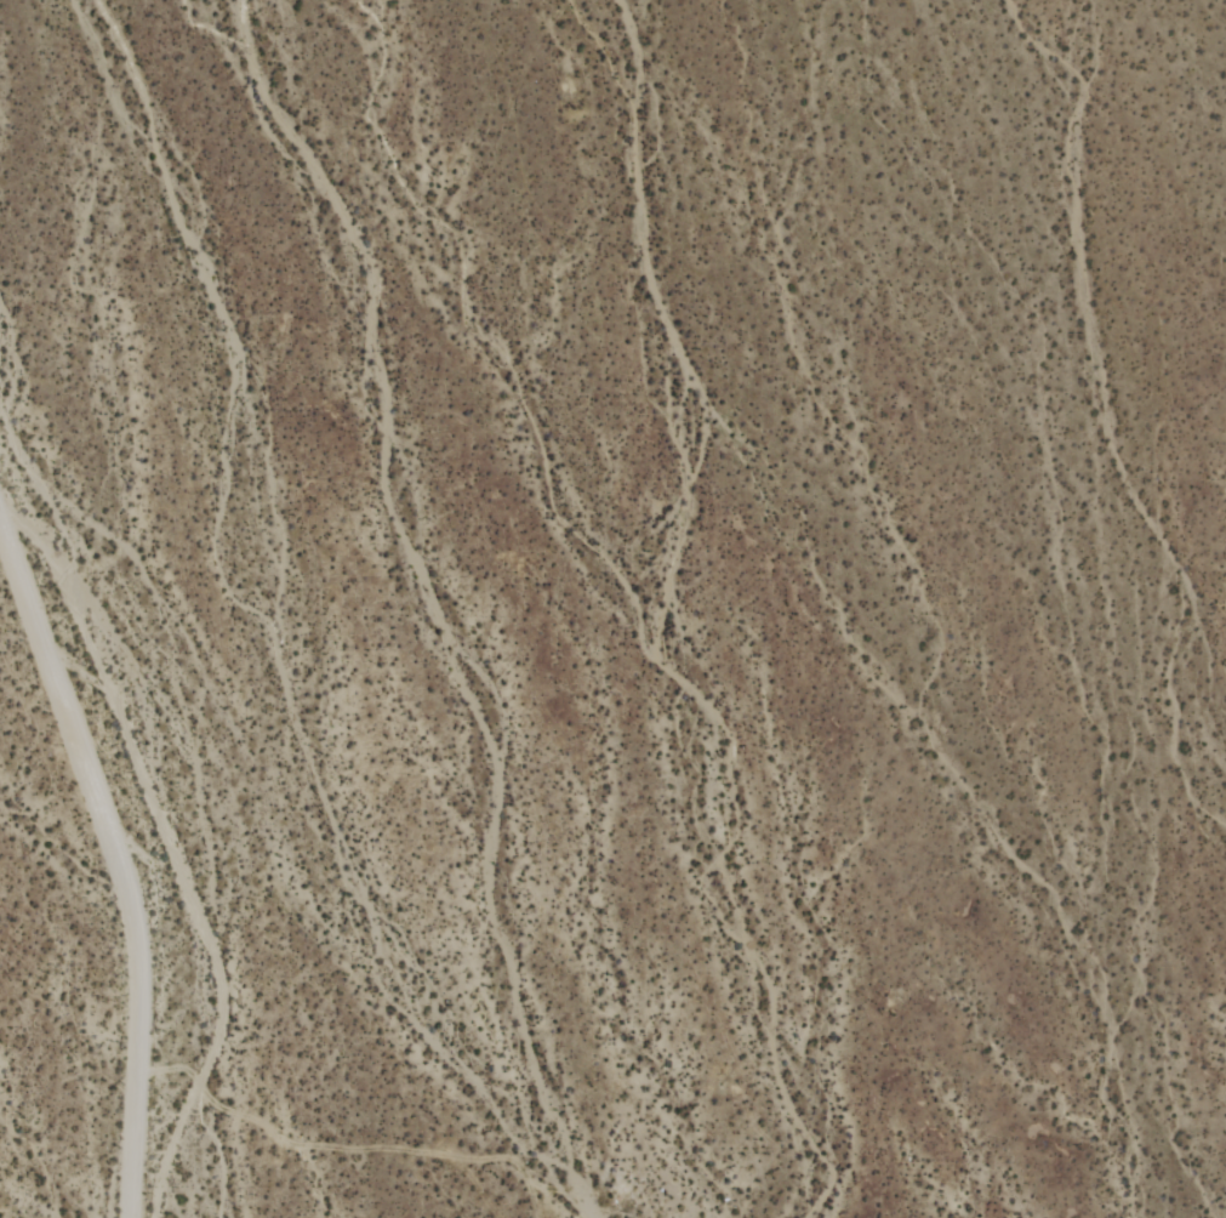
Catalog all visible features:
road: (116, 864)

